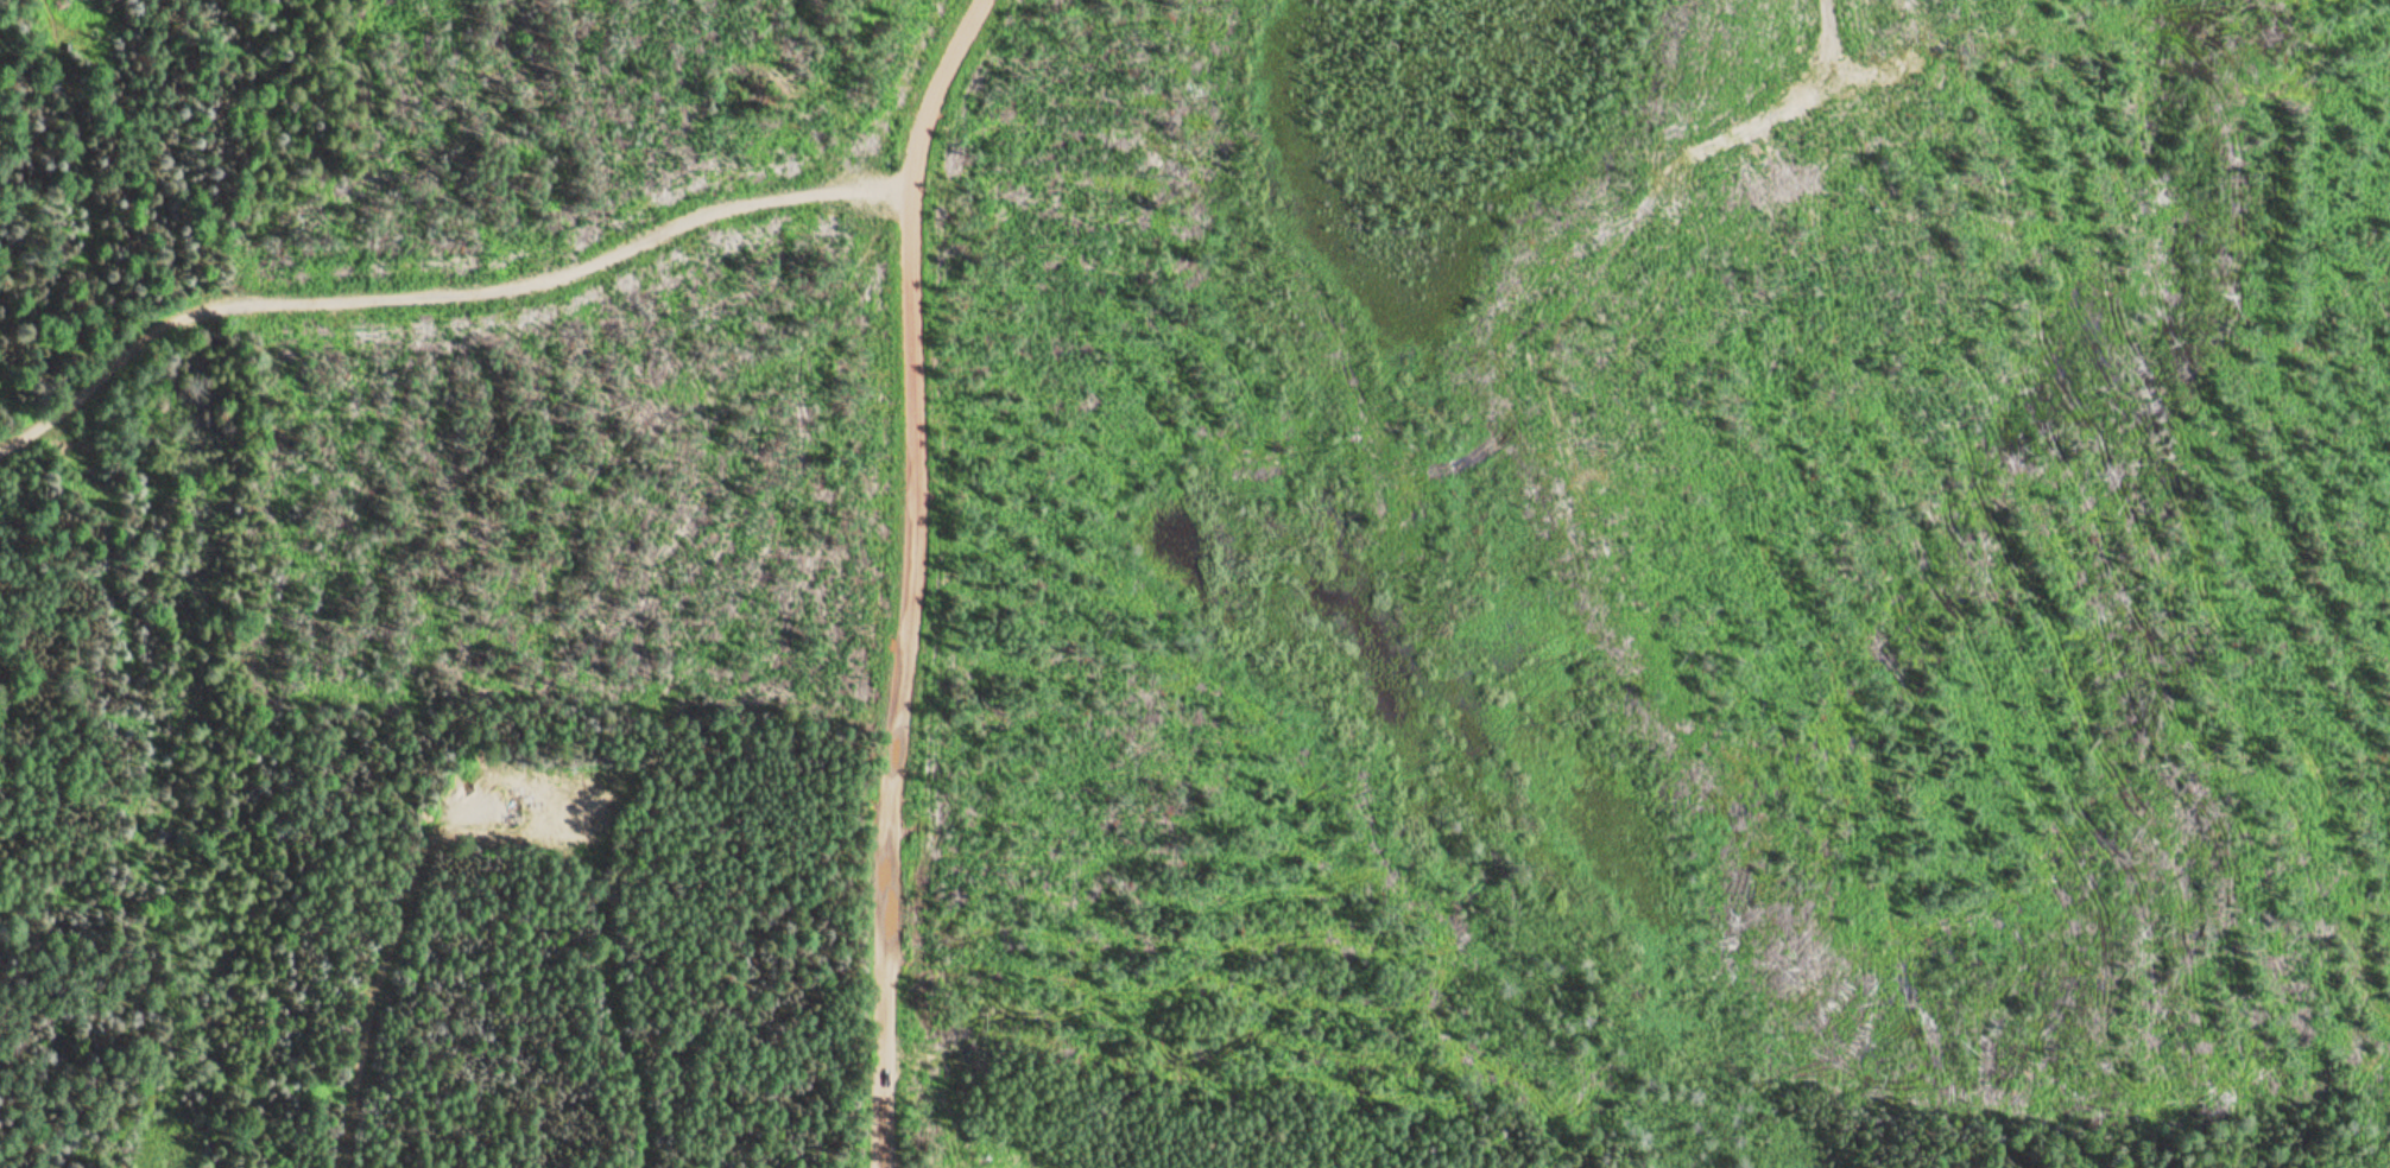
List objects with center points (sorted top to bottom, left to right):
road: (745, 507)
road: (905, 575)

